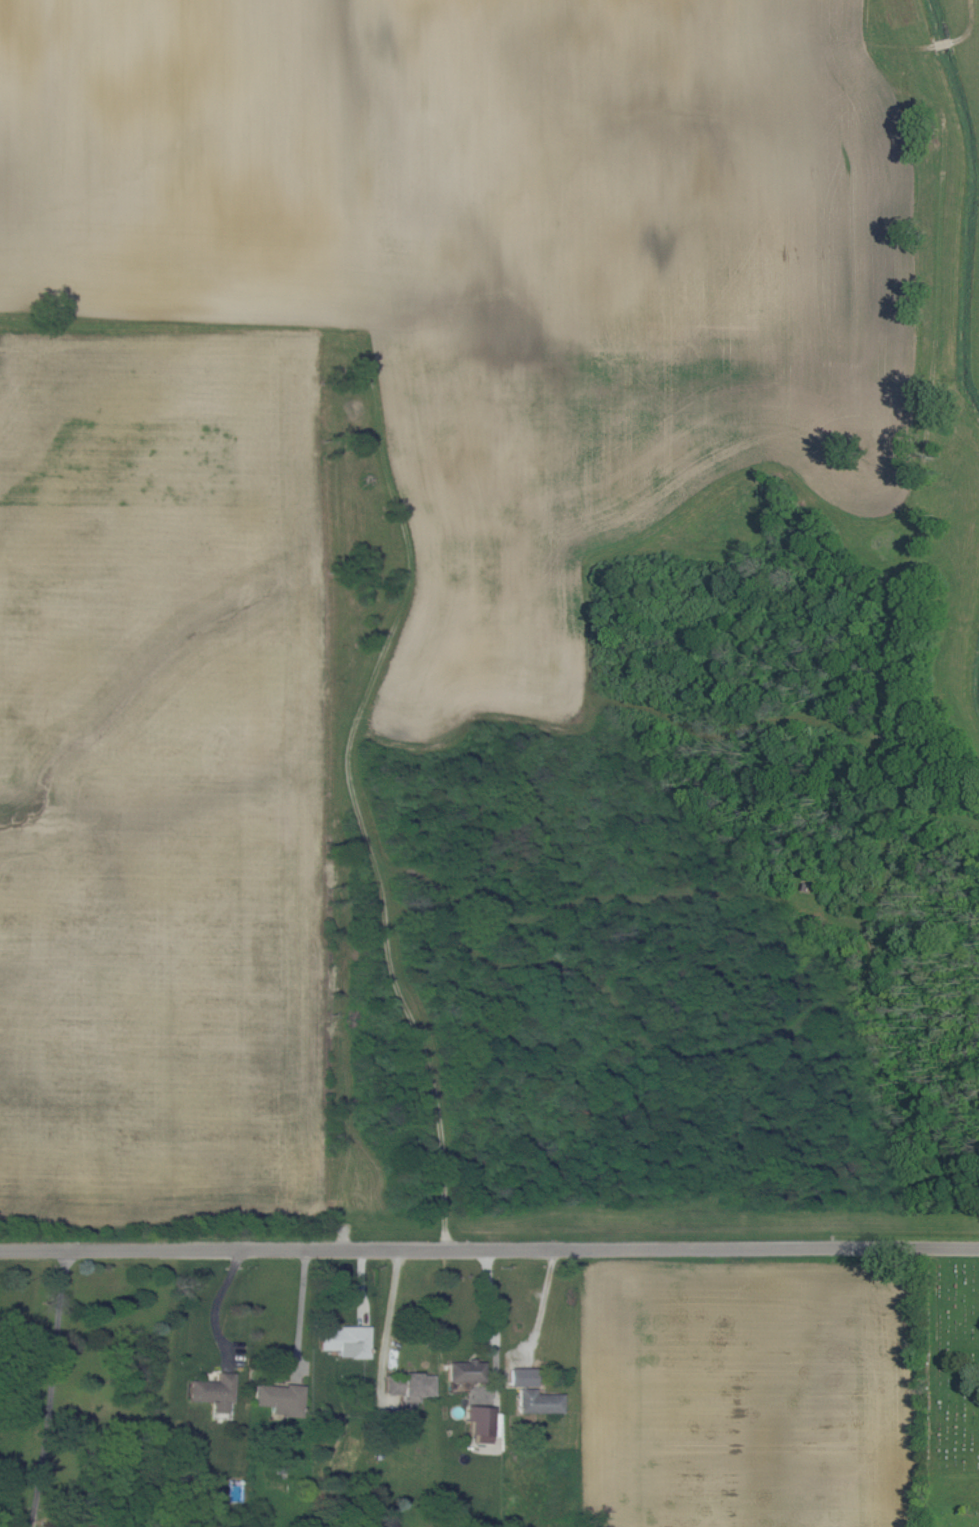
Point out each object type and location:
road: (489, 1247)
road: (211, 1304)
road: (537, 1305)
road: (488, 1309)
road: (296, 1310)
road: (385, 1311)
building: (347, 1340)
building: (466, 1370)
building: (522, 1376)
building: (409, 1385)
road: (45, 1386)
building: (214, 1390)
building: (280, 1398)
building: (539, 1401)
building: (481, 1421)

